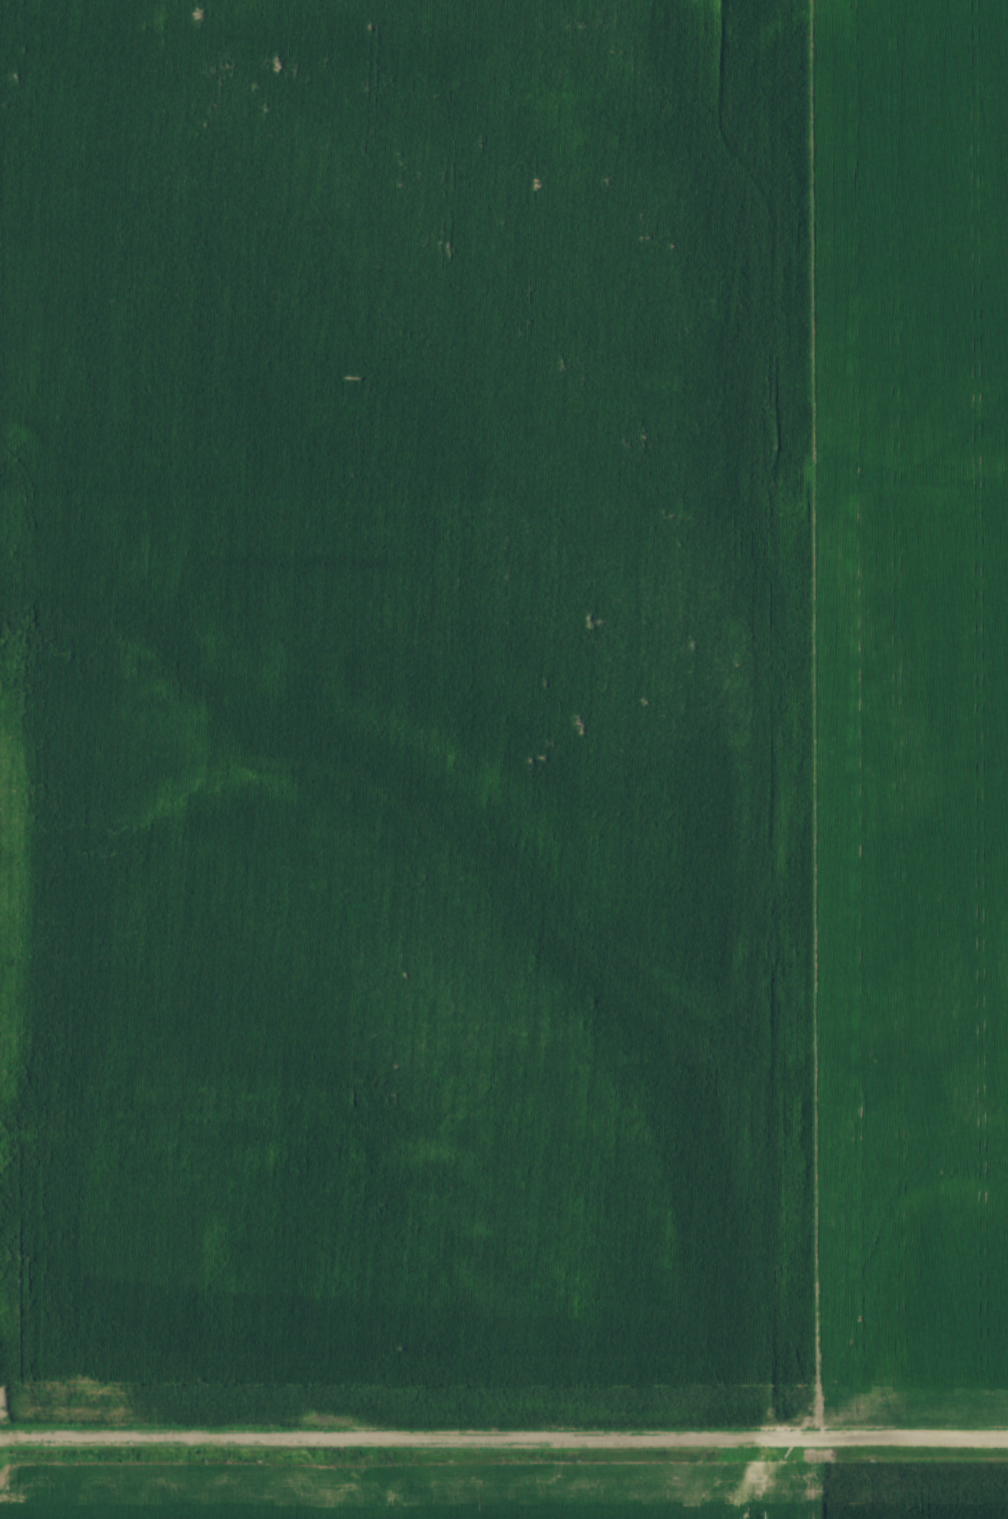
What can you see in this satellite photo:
road: (504, 1447)

